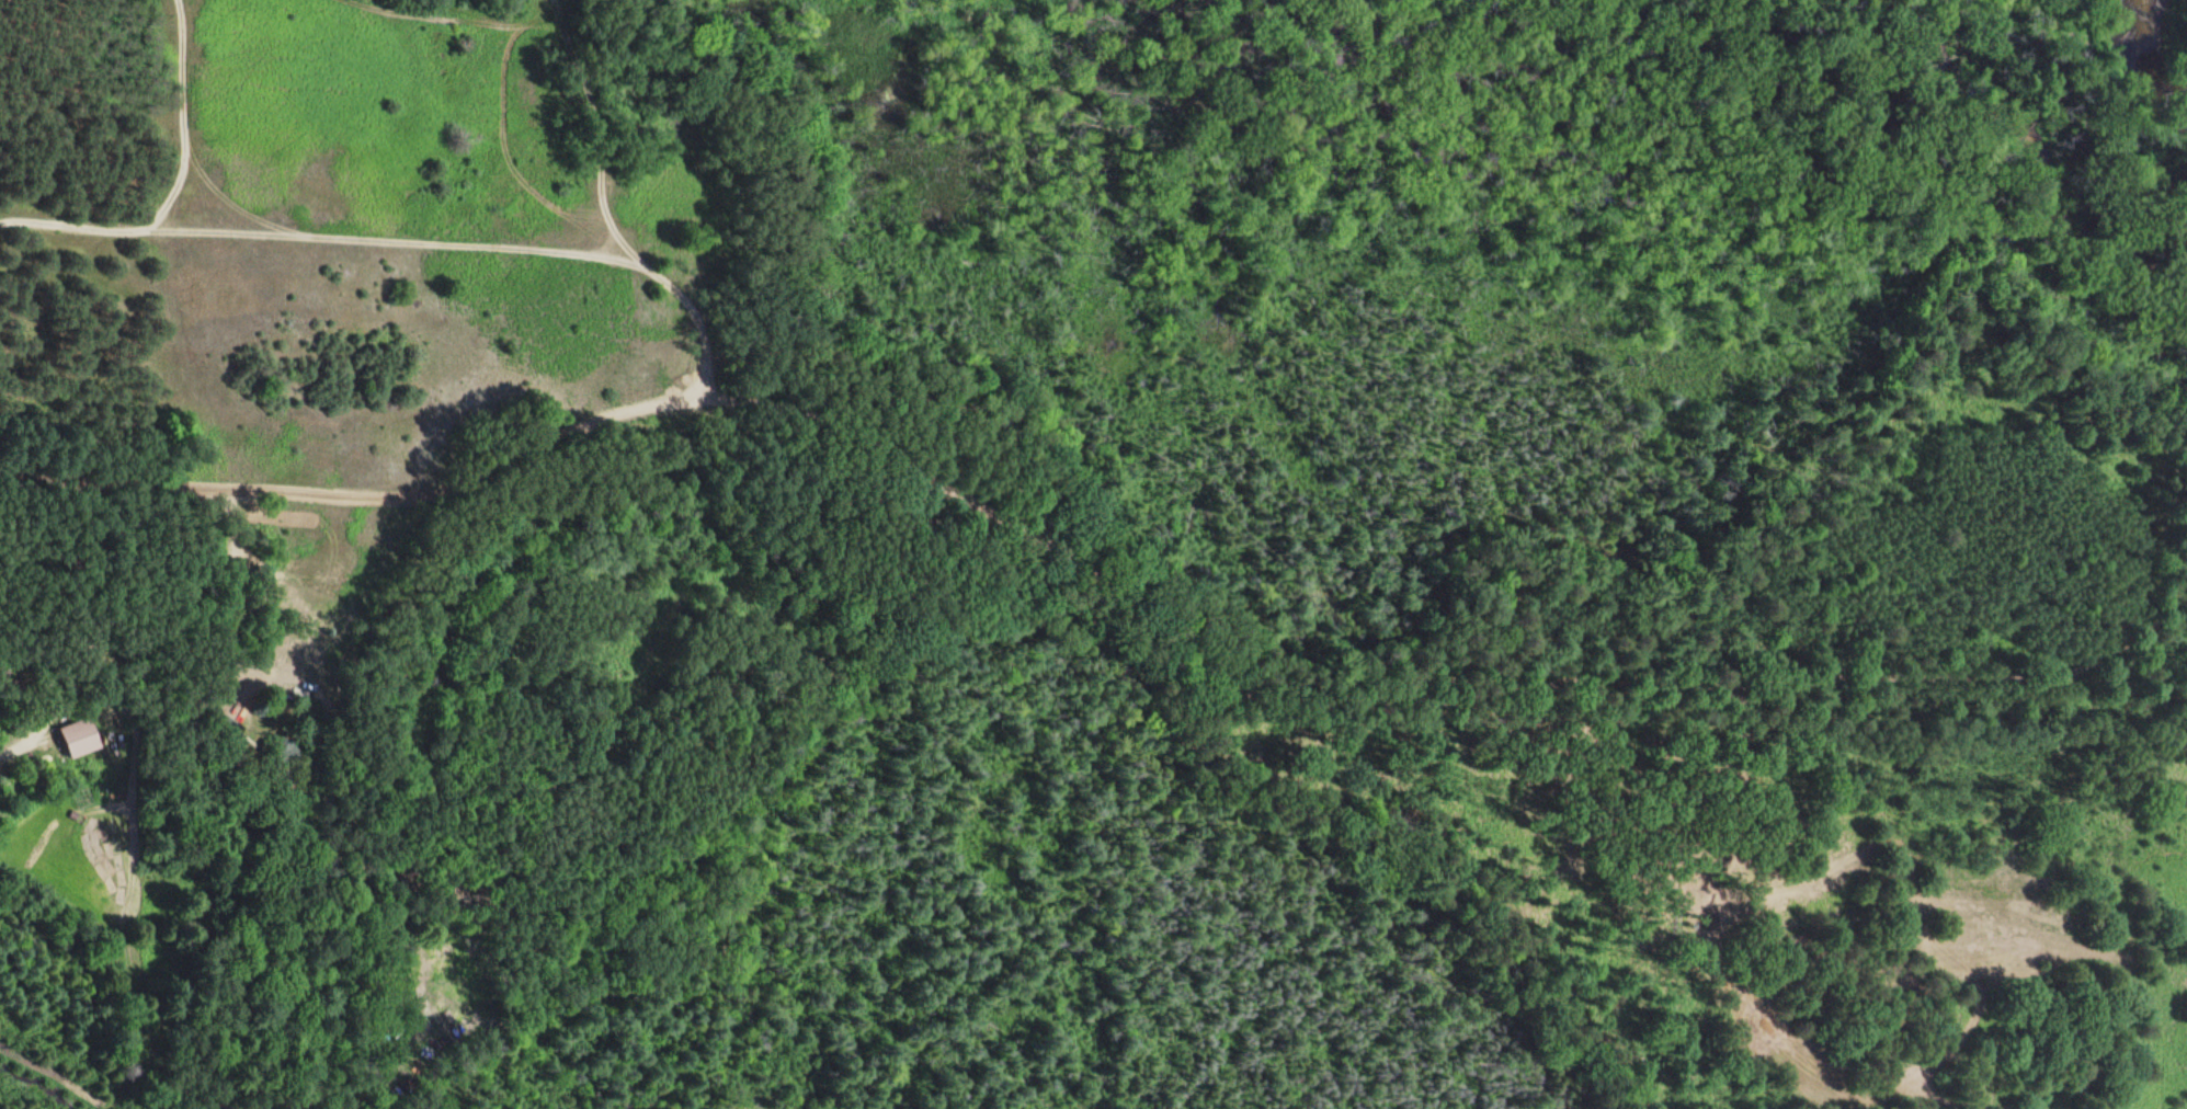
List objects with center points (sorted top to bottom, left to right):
river: (2157, 62)
road: (516, 254)
road: (363, 507)
building: (81, 738)
building: (282, 746)

